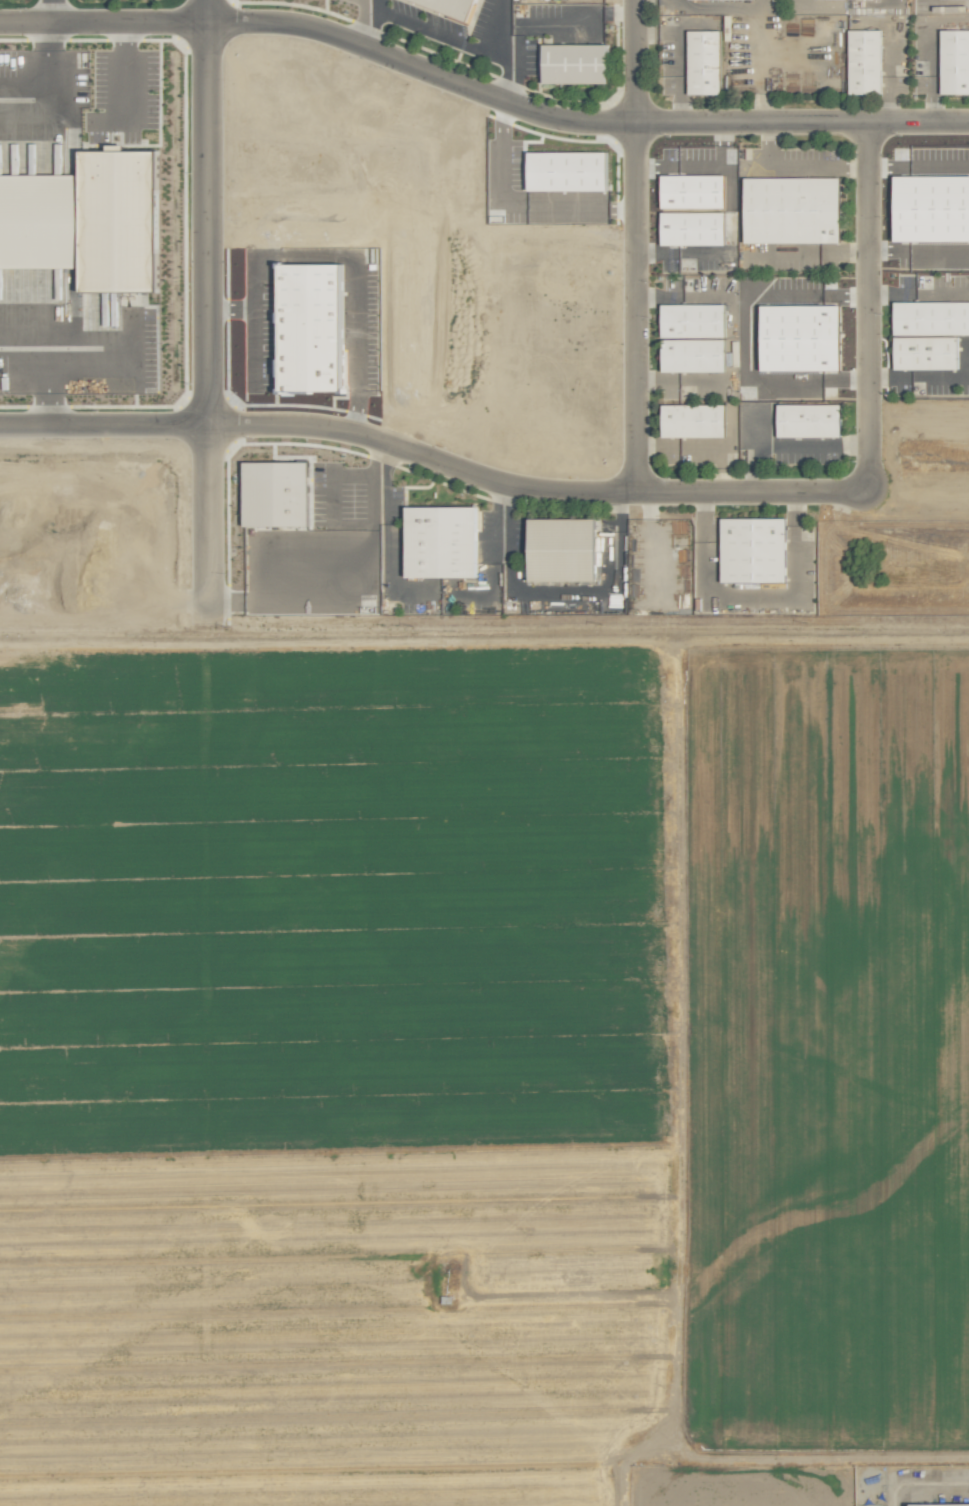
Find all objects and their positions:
building: (452, 7)
road: (50, 11)
road: (101, 22)
road: (370, 27)
road: (425, 29)
road: (508, 60)
building: (704, 62)
building: (865, 62)
building: (955, 62)
building: (575, 64)
road: (120, 72)
road: (50, 94)
road: (577, 121)
road: (501, 162)
road: (796, 166)
building: (568, 171)
road: (579, 207)
building: (793, 210)
building: (114, 223)
building: (693, 228)
road: (632, 245)
road: (814, 252)
road: (919, 293)
road: (203, 298)
road: (869, 303)
building: (693, 321)
building: (929, 334)
building: (693, 355)
road: (44, 366)
building: (694, 421)
building: (810, 421)
road: (792, 444)
road: (431, 460)
road: (386, 479)
building: (276, 492)
road: (502, 520)
building: (442, 541)
building: (563, 548)
building: (754, 549)
road: (917, 1479)
building: (941, 1504)

